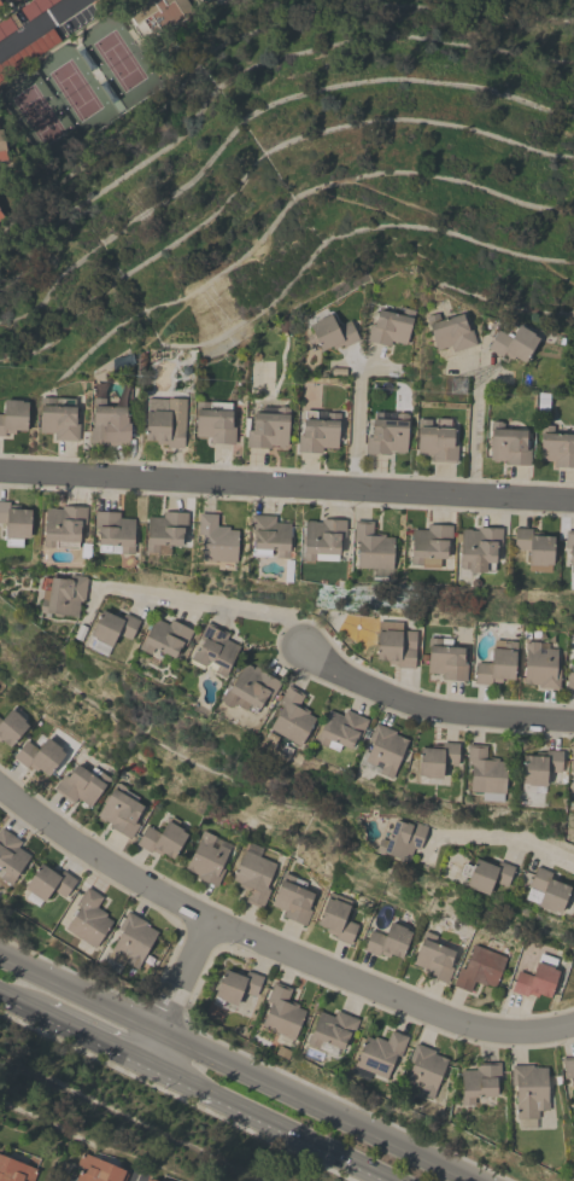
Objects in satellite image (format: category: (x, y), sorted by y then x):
building: (11, 0)
building: (14, 0)
road: (8, 4)
building: (0, 5)
road: (20, 5)
road: (54, 5)
building: (35, 7)
road: (16, 12)
building: (163, 17)
road: (36, 25)
building: (6, 27)
road: (77, 46)
building: (28, 53)
park: (77, 87)
building: (37, 112)
building: (2, 147)
building: (1, 216)
building: (391, 327)
building: (450, 332)
building: (330, 333)
building: (512, 343)
power tower: (456, 386)
building: (541, 402)
building: (13, 417)
building: (58, 418)
building: (165, 421)
building: (215, 421)
building: (107, 423)
building: (268, 427)
road: (358, 427)
road: (479, 431)
building: (318, 432)
building: (387, 434)
building: (437, 440)
building: (508, 444)
building: (556, 447)
road: (287, 489)
building: (14, 523)
building: (63, 526)
building: (165, 531)
building: (113, 533)
building: (269, 535)
building: (322, 539)
building: (216, 540)
building: (429, 546)
building: (478, 548)
building: (534, 548)
building: (569, 548)
building: (373, 551)
building: (63, 594)
road: (213, 605)
building: (111, 630)
building: (164, 636)
building: (396, 645)
building: (213, 651)
building: (446, 659)
building: (497, 663)
building: (540, 665)
building: (570, 675)
building: (250, 688)
road: (433, 710)
building: (292, 719)
building: (11, 727)
building: (340, 729)
building: (382, 751)
building: (40, 755)
building: (437, 760)
building: (572, 762)
building: (539, 769)
building: (485, 774)
building: (82, 785)
building: (573, 785)
building: (121, 810)
building: (163, 839)
road: (511, 839)
building: (402, 840)
building: (10, 856)
building: (209, 859)
building: (253, 874)
building: (486, 874)
building: (47, 884)
building: (546, 890)
building: (293, 900)
building: (88, 919)
building: (336, 919)
building: (387, 941)
building: (130, 943)
road: (274, 944)
building: (435, 956)
building: (480, 968)
road: (194, 978)
building: (535, 981)
building: (235, 988)
road: (81, 993)
road: (19, 1007)
building: (281, 1014)
building: (332, 1031)
road: (92, 1042)
road: (153, 1049)
building: (282, 1052)
building: (377, 1055)
building: (424, 1069)
building: (569, 1070)
building: (479, 1081)
building: (529, 1094)
road: (318, 1105)
road: (260, 1123)
building: (14, 1170)
building: (95, 1170)
road: (139, 1179)
building: (146, 1180)
building: (151, 1180)

